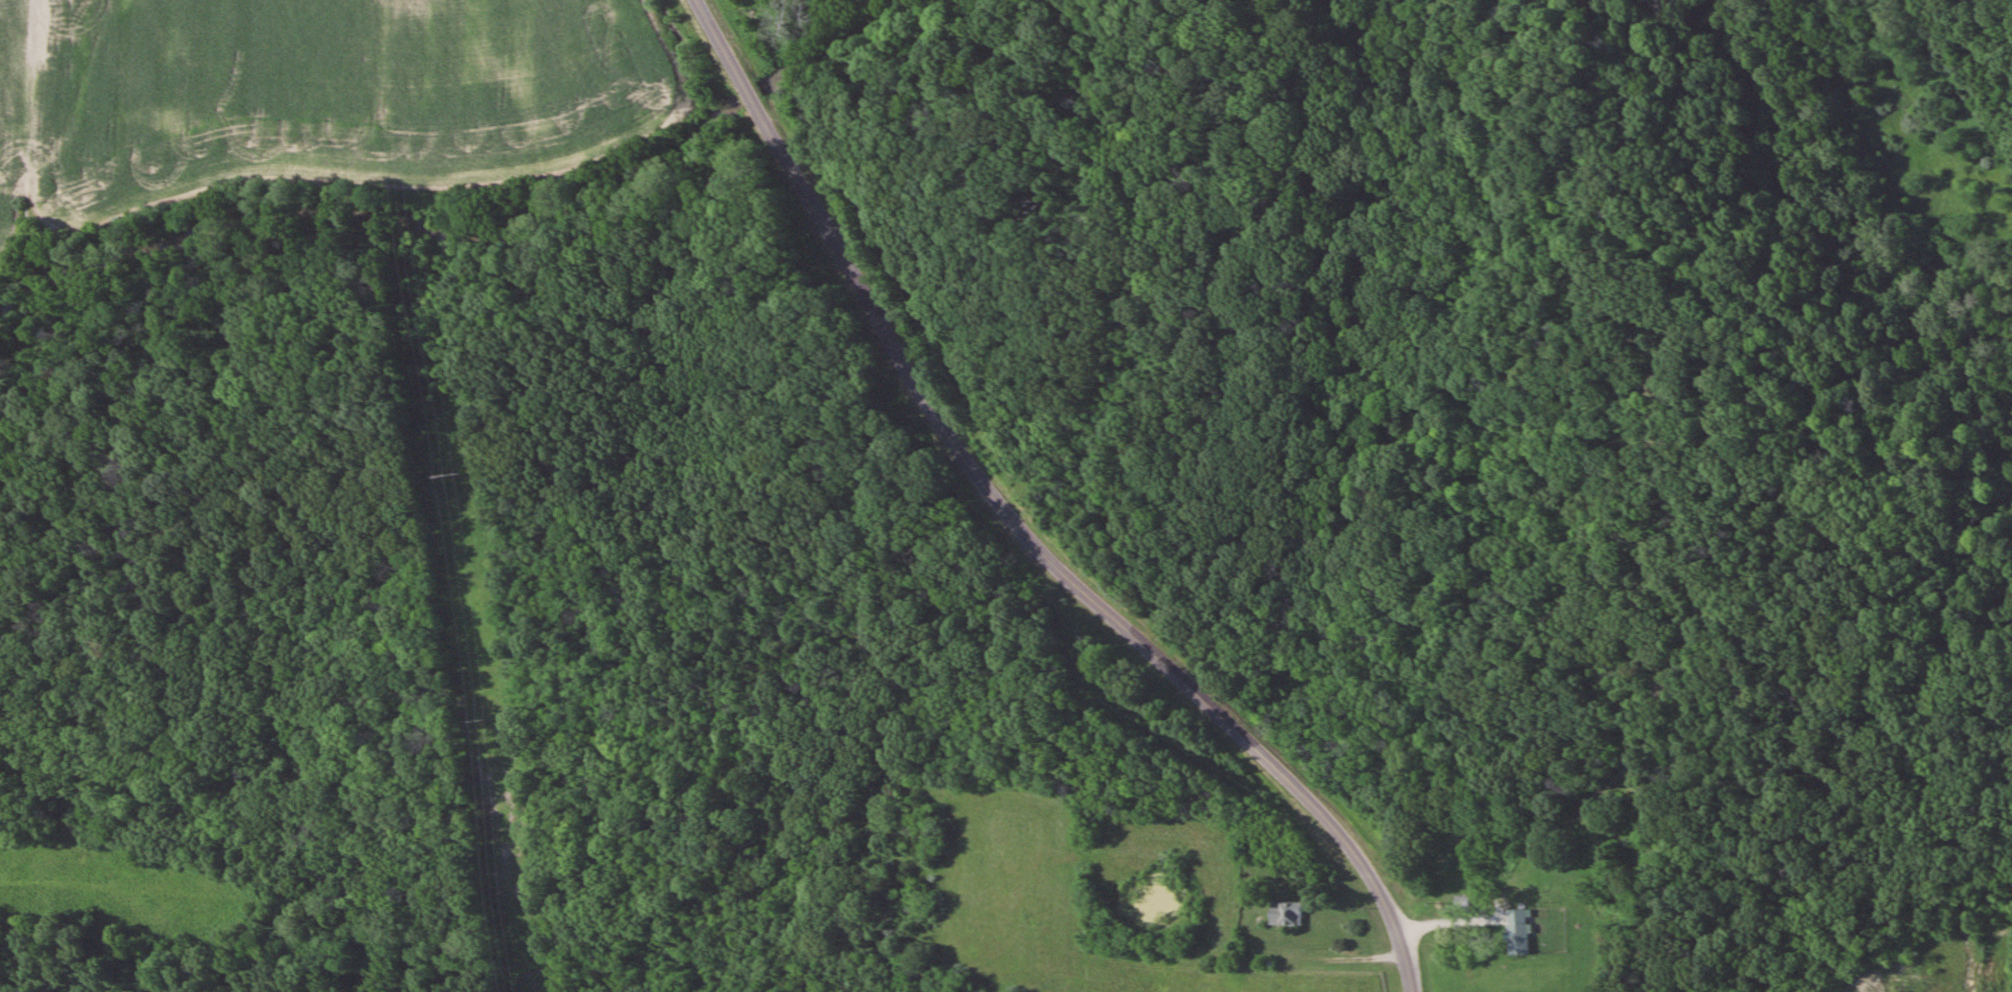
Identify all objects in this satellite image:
power tower: (451, 474)
road: (1024, 523)
power tower: (483, 717)
building: (1284, 913)
building: (1516, 931)

